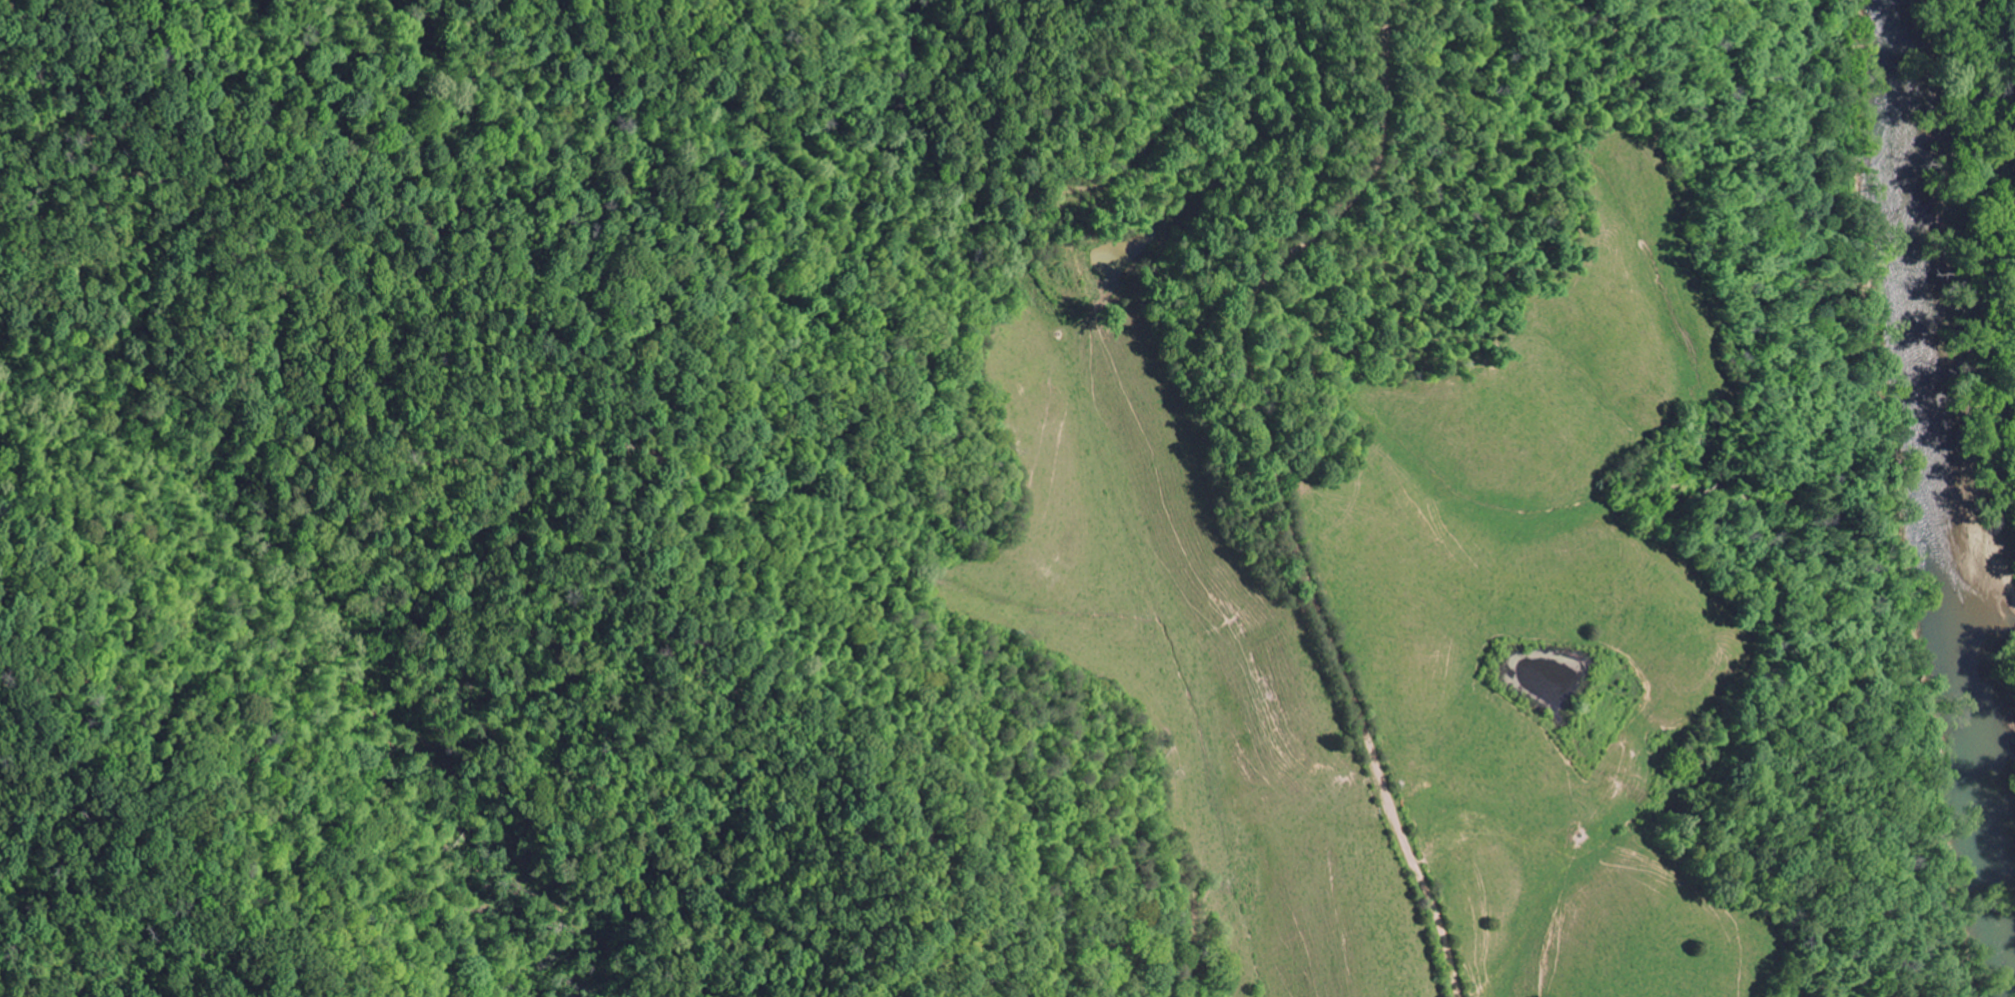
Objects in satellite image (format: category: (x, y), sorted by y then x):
river: (1934, 477)
road: (1277, 486)

